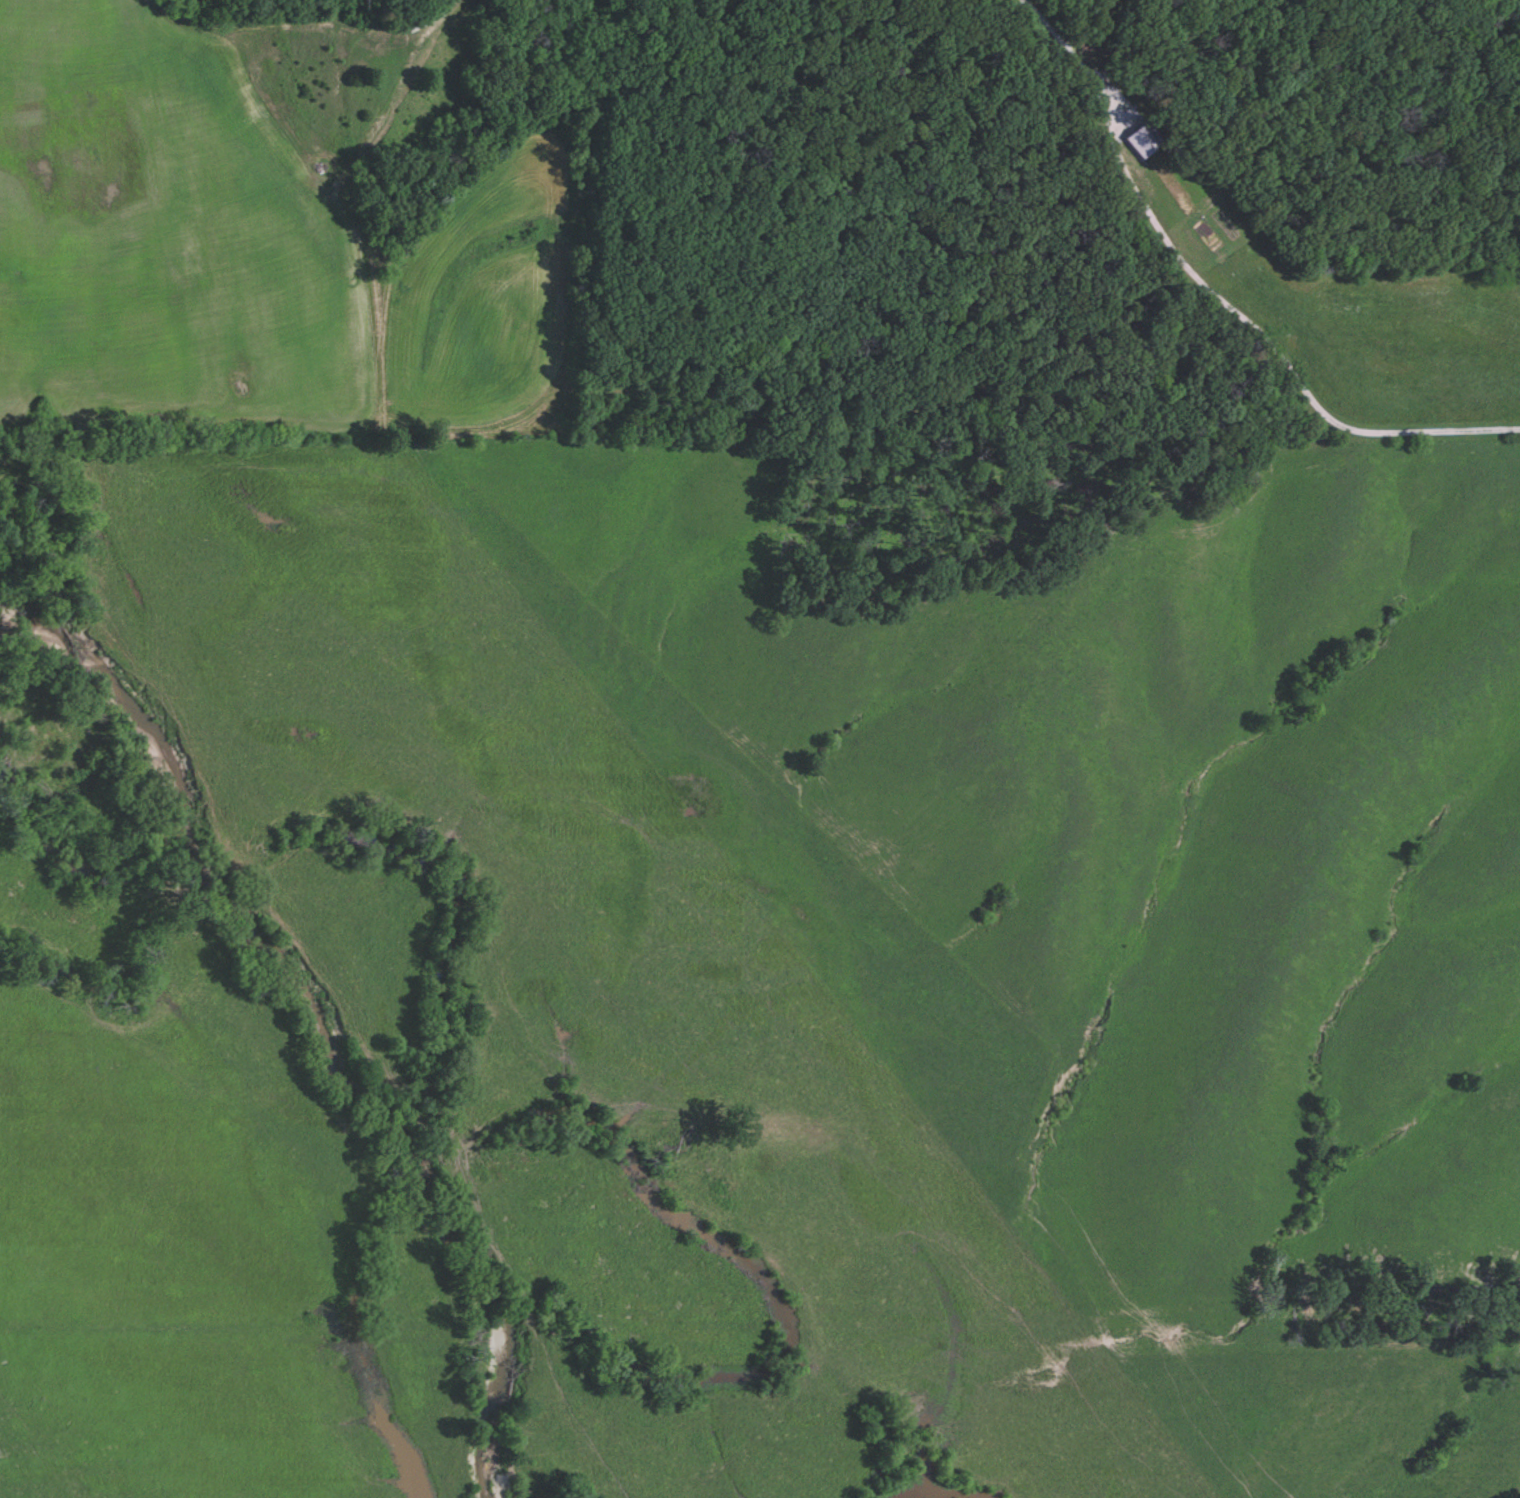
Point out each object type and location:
building: (1133, 143)

